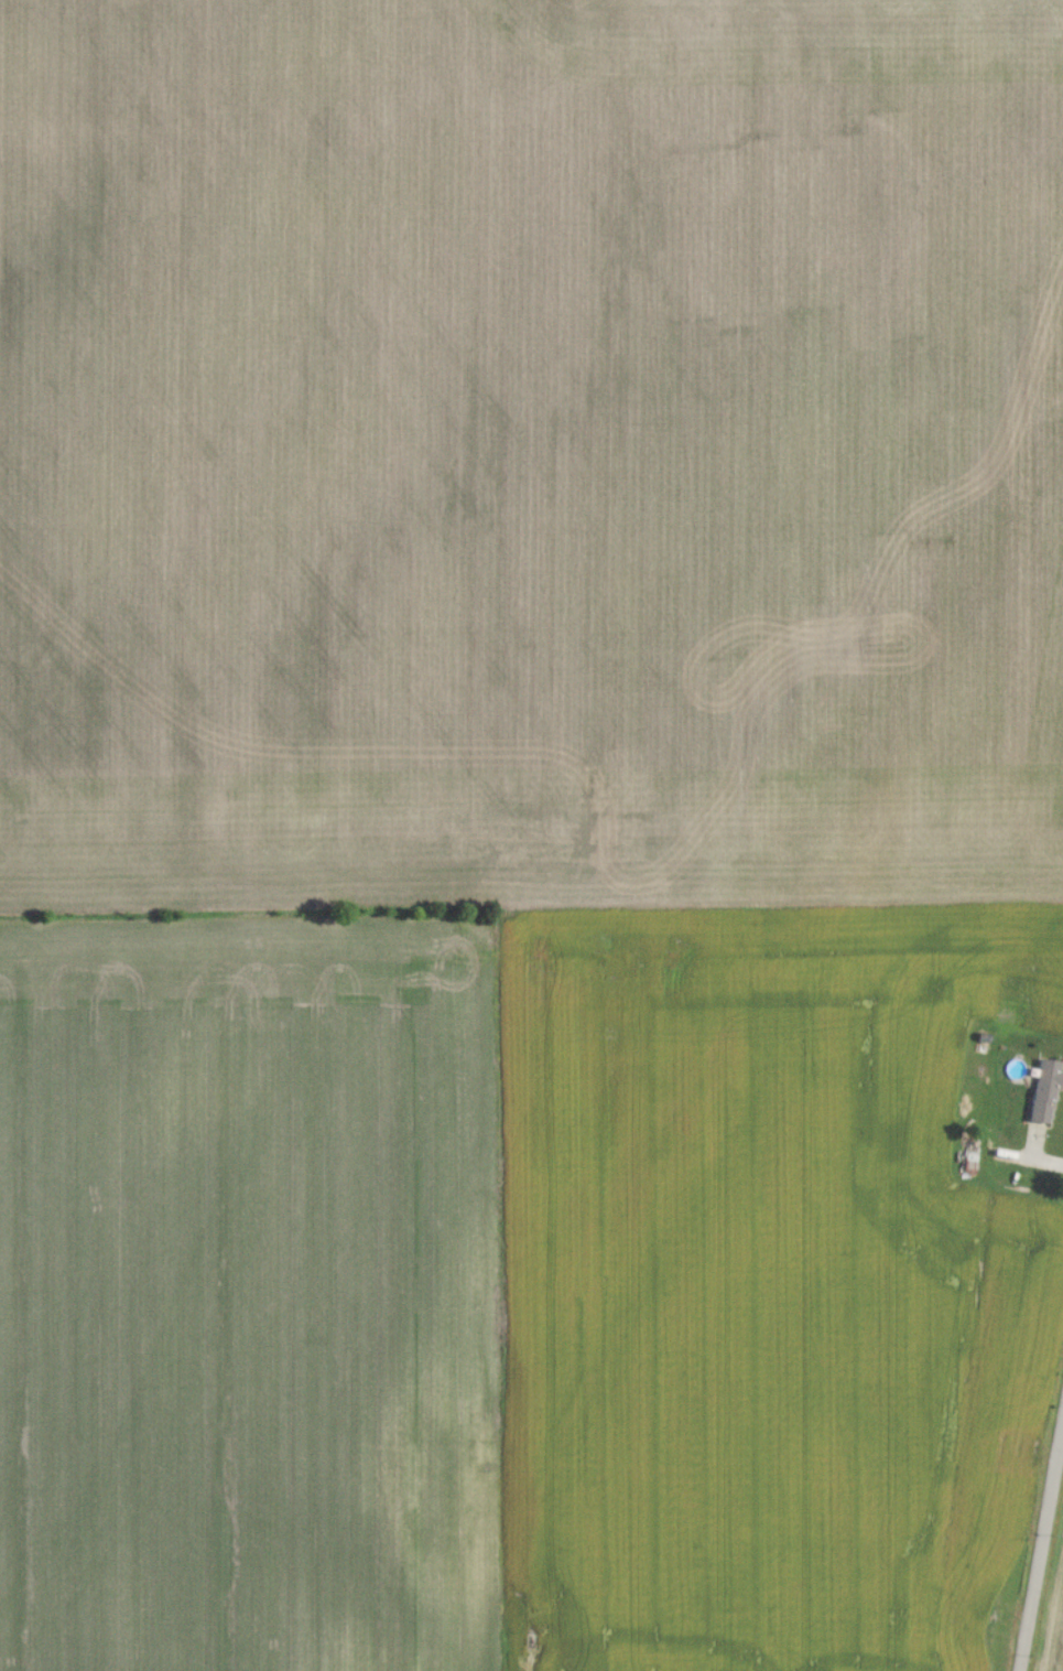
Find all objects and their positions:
building: (1044, 1096)
road: (1041, 1544)

